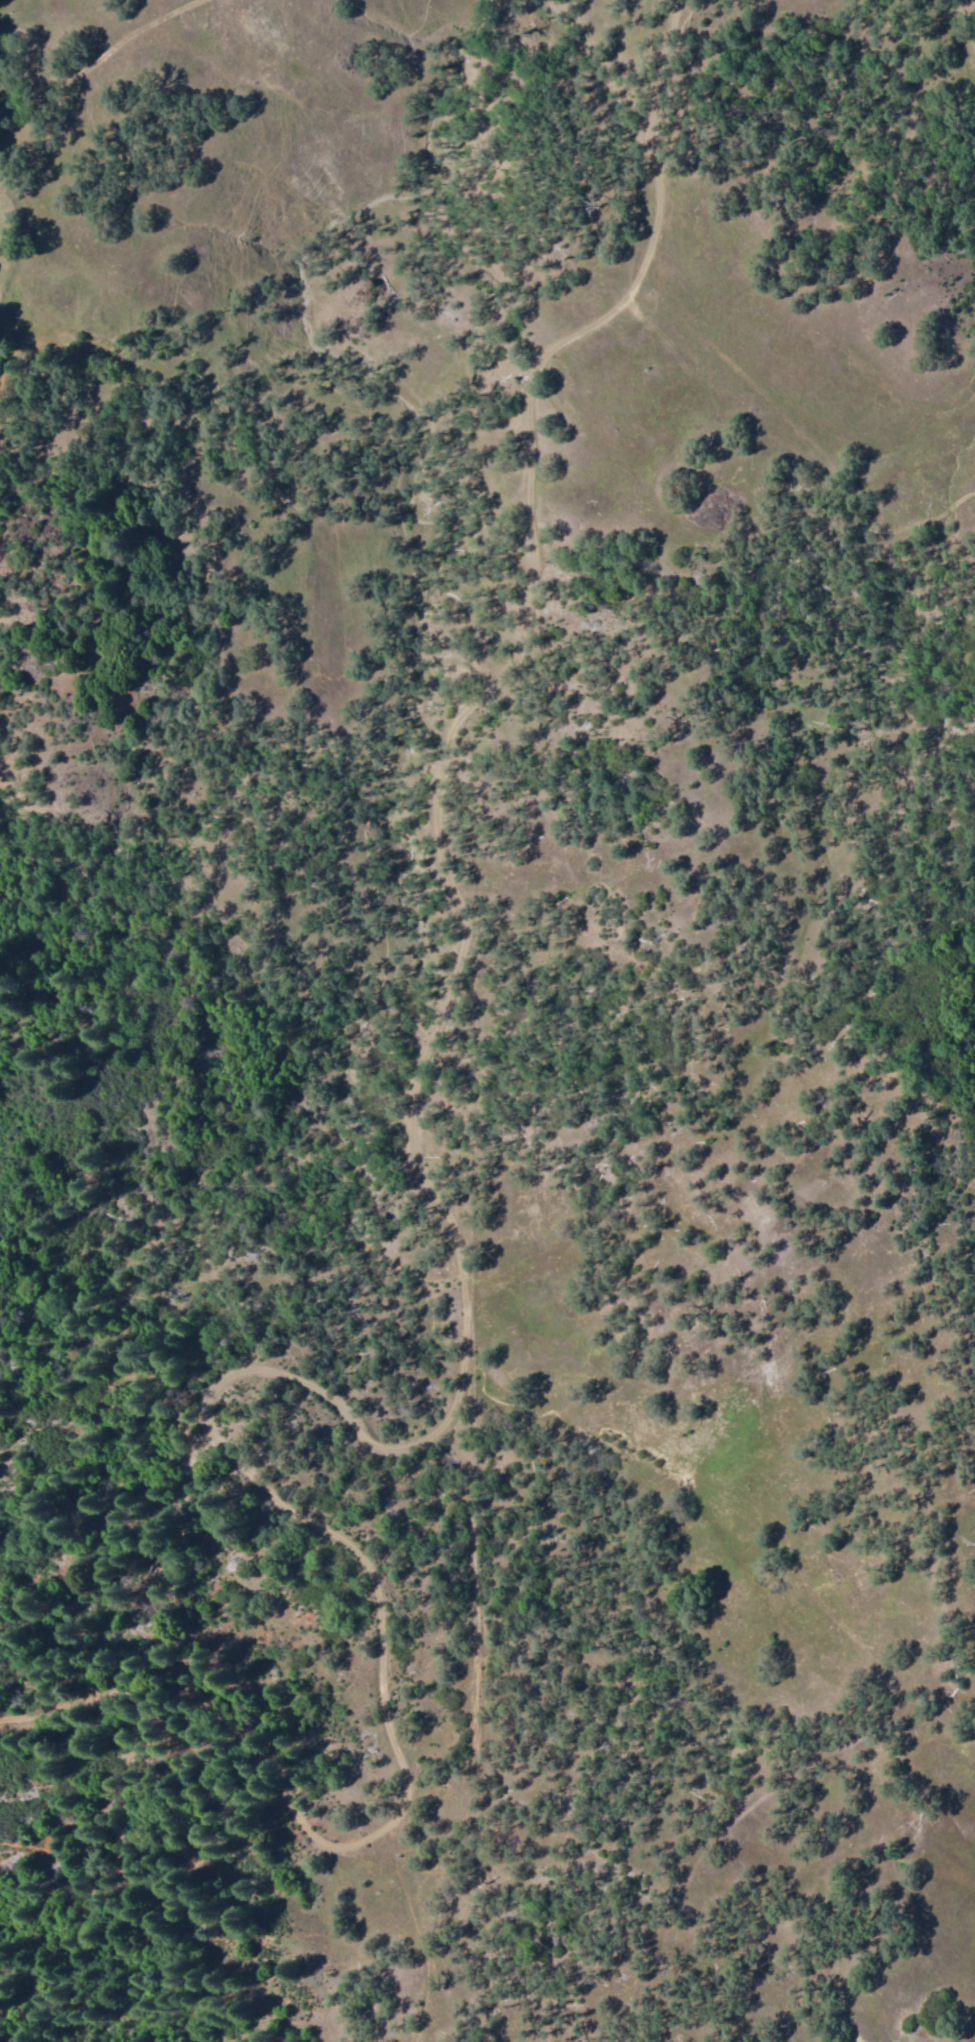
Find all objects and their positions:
road: (470, 1294)

